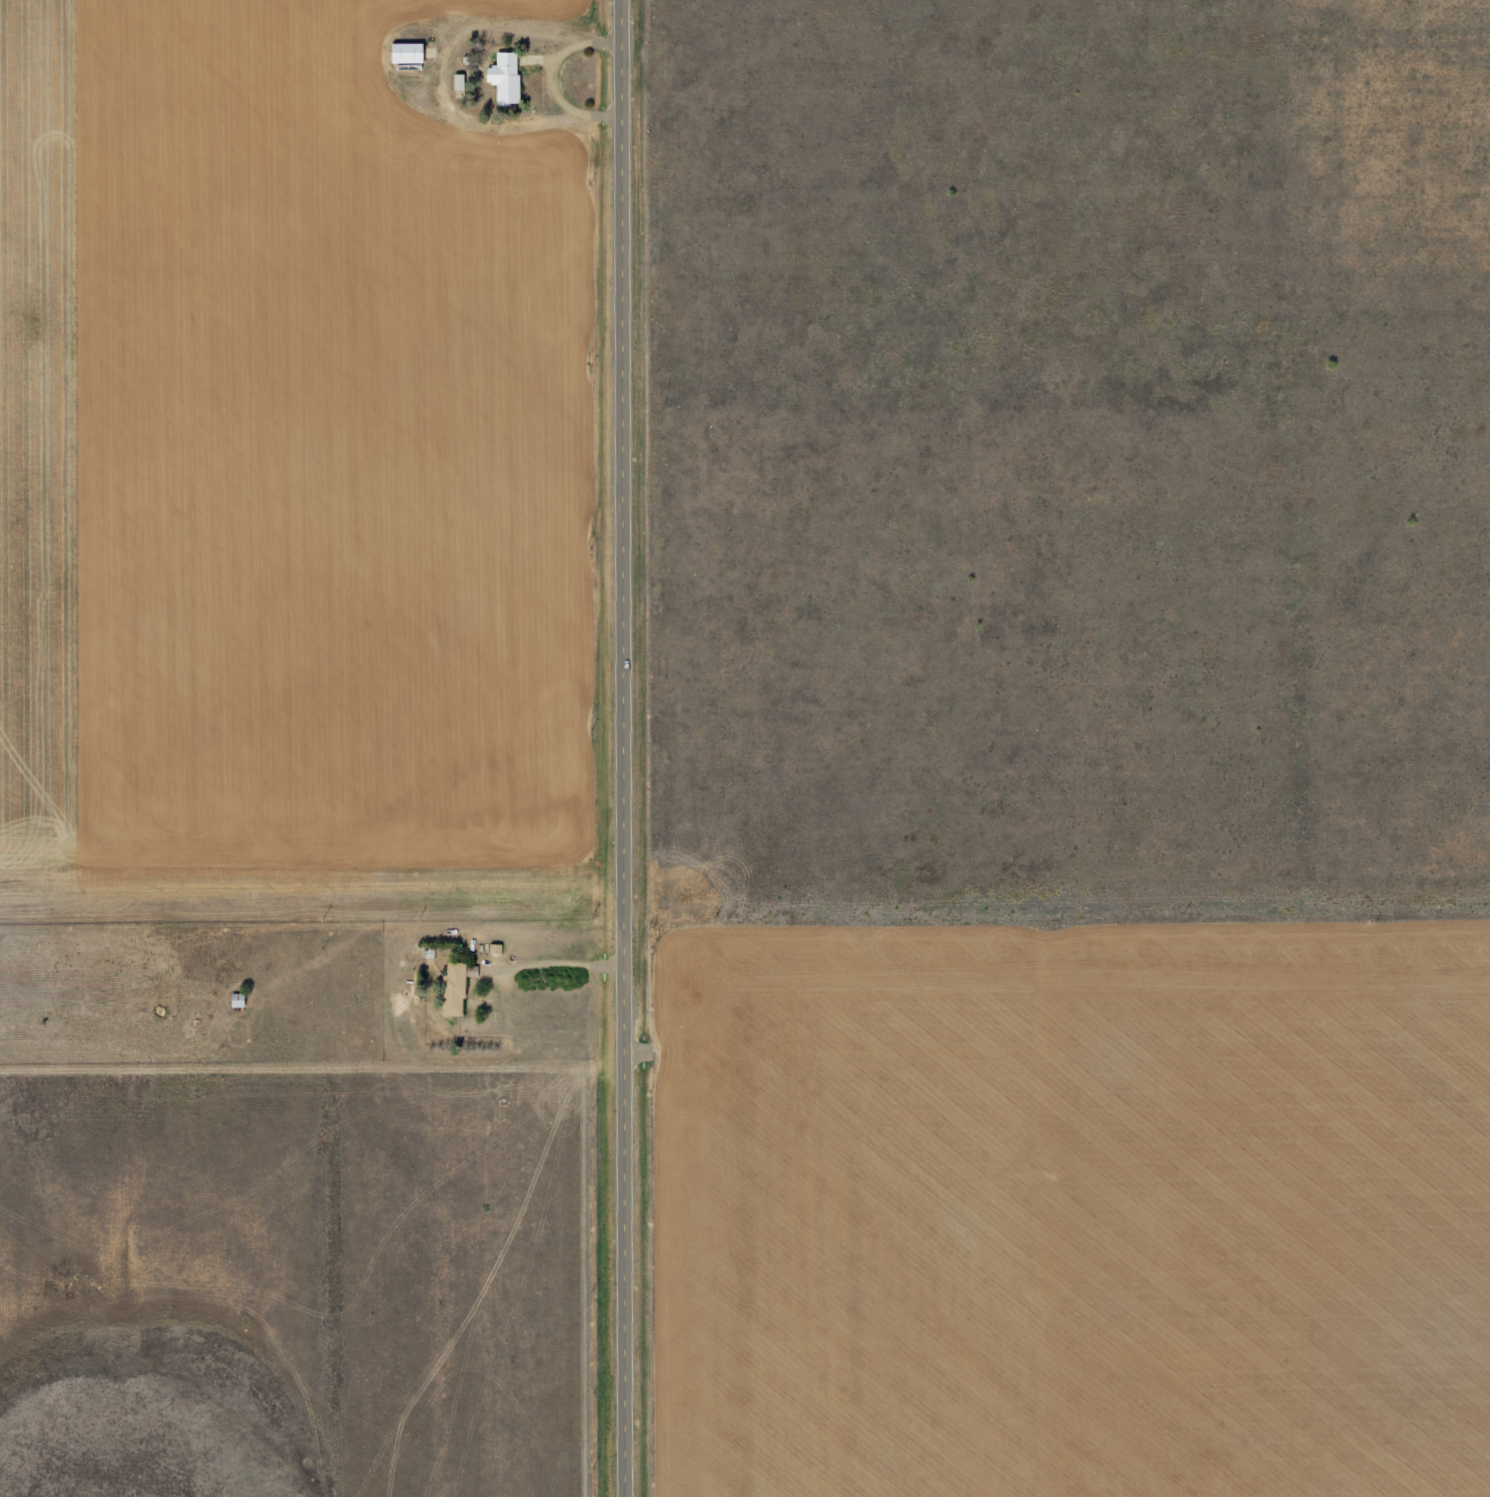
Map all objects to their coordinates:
building: (402, 53)
building: (501, 78)
road: (634, 748)
road: (437, 956)
building: (451, 986)
building: (233, 1002)

